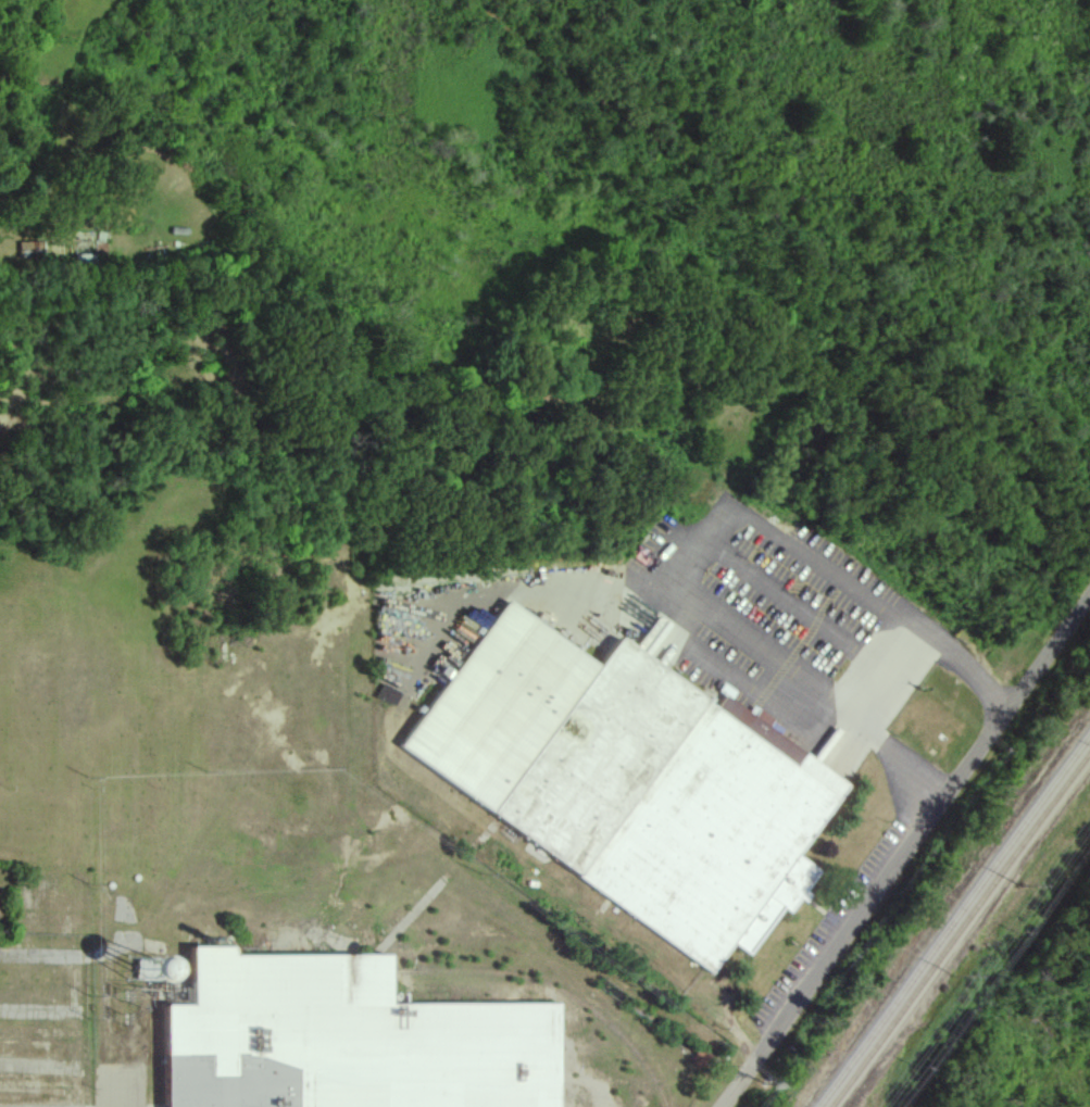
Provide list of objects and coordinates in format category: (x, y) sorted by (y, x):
road: (27, 212)
building: (30, 249)
road: (692, 551)
road: (899, 685)
road: (1017, 704)
building: (630, 781)
railway: (955, 918)
railway: (960, 928)
road: (831, 955)
building: (164, 967)
railway: (563, 993)
building: (341, 1040)

